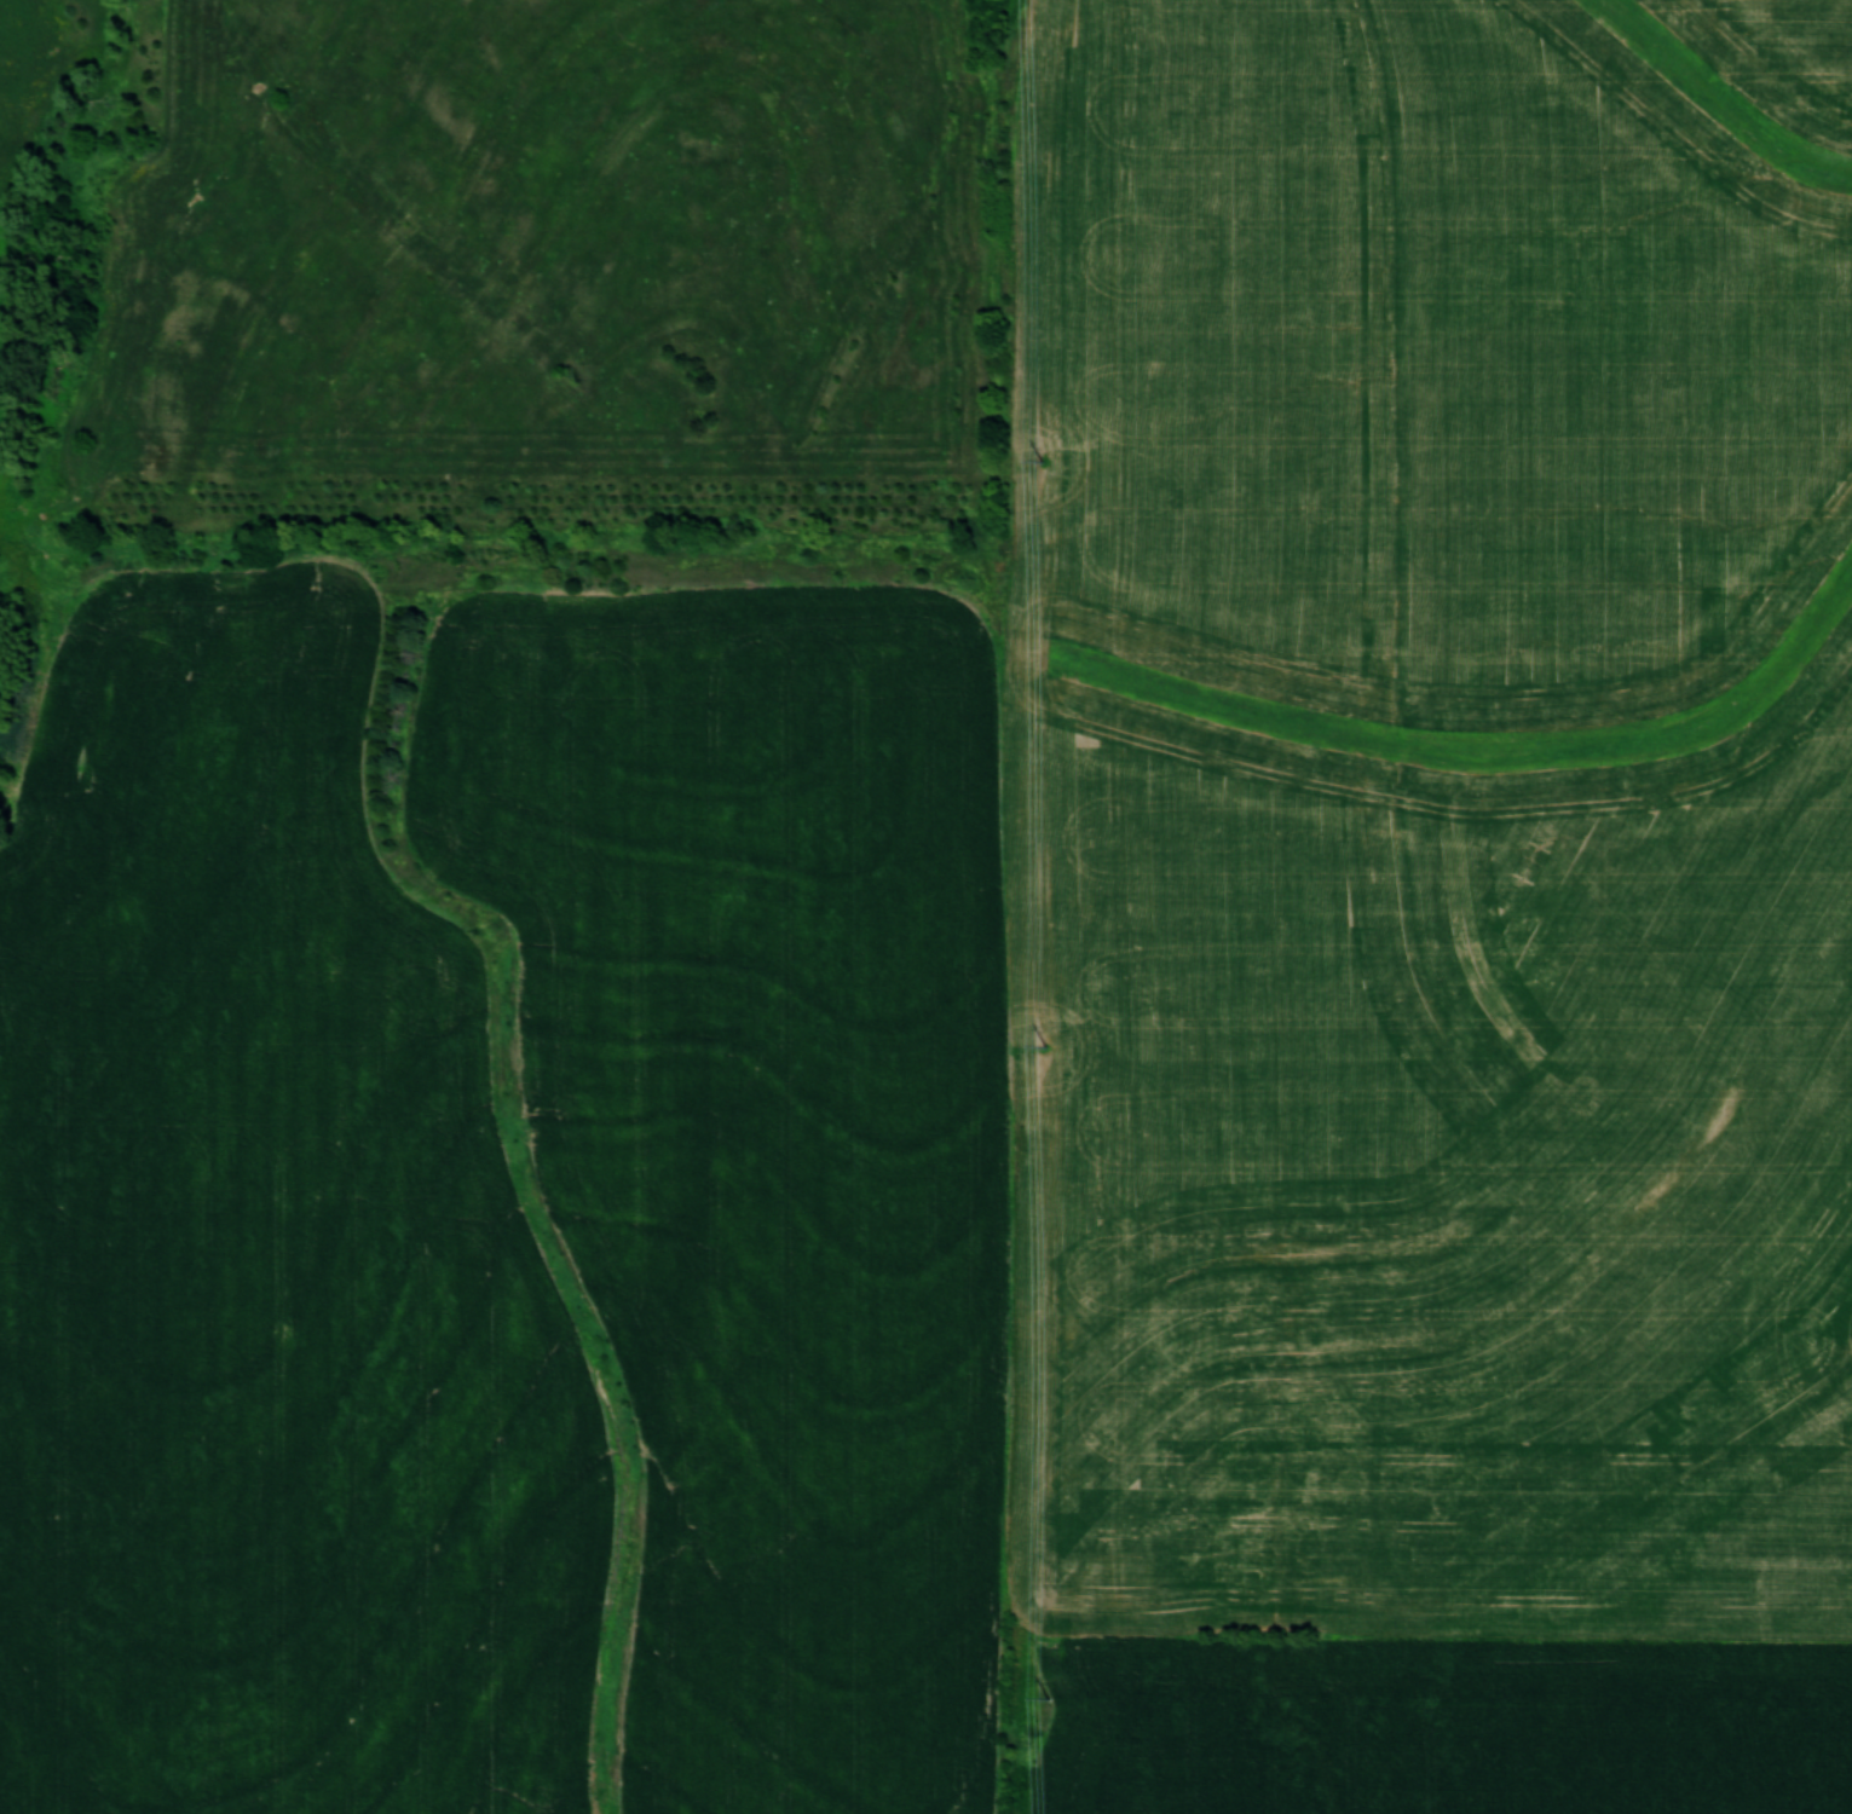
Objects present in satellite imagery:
power tower: (1039, 460)
power tower: (1043, 1044)
power tower: (1046, 1698)

